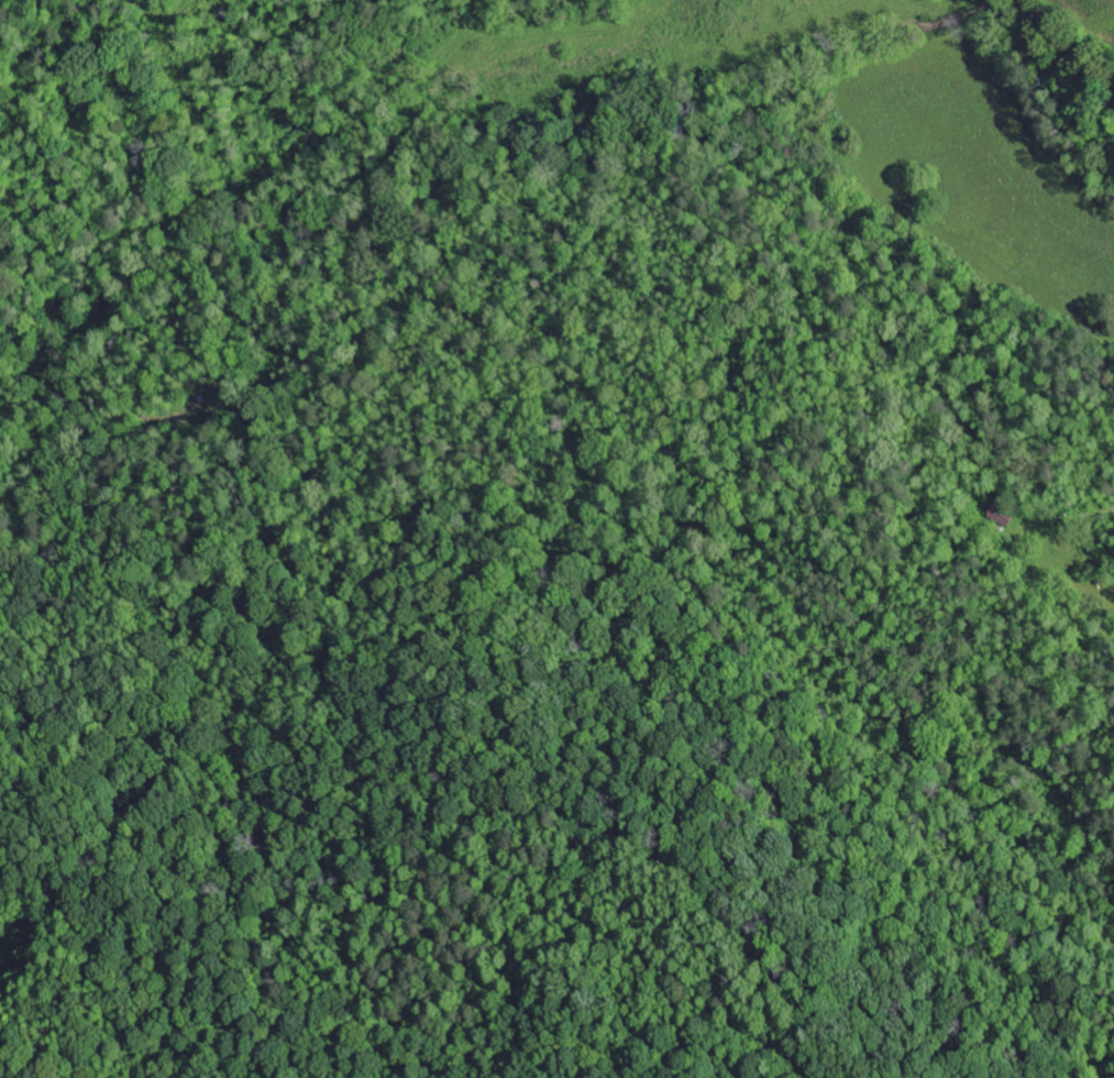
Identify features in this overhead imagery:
road: (1059, 82)

